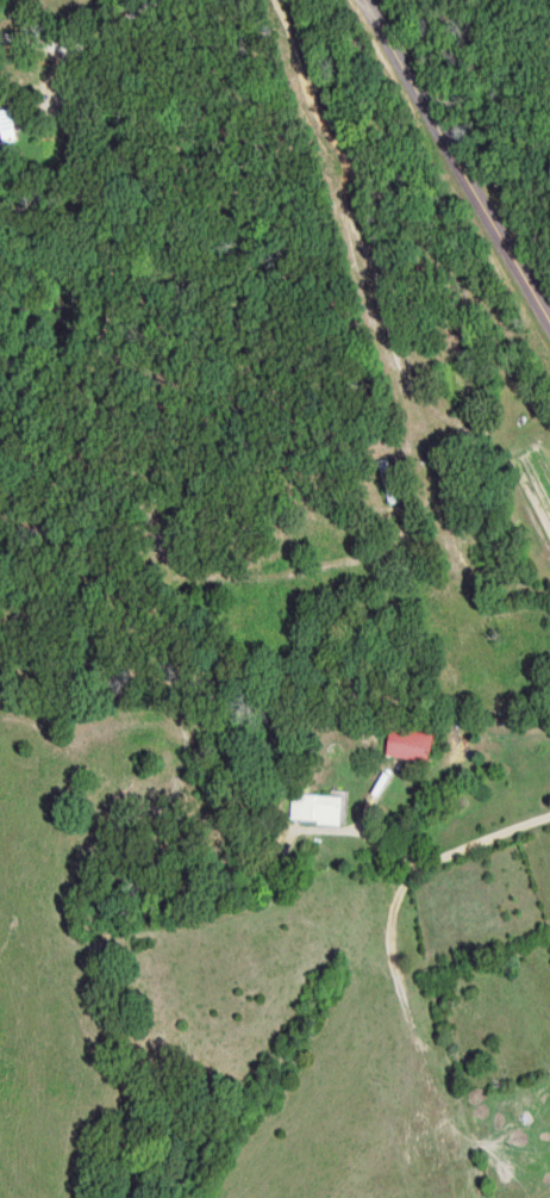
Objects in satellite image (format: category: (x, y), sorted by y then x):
road: (111, 18)
road: (98, 23)
building: (11, 126)
road: (452, 165)
road: (144, 327)
building: (419, 743)
building: (324, 806)
road: (415, 859)

